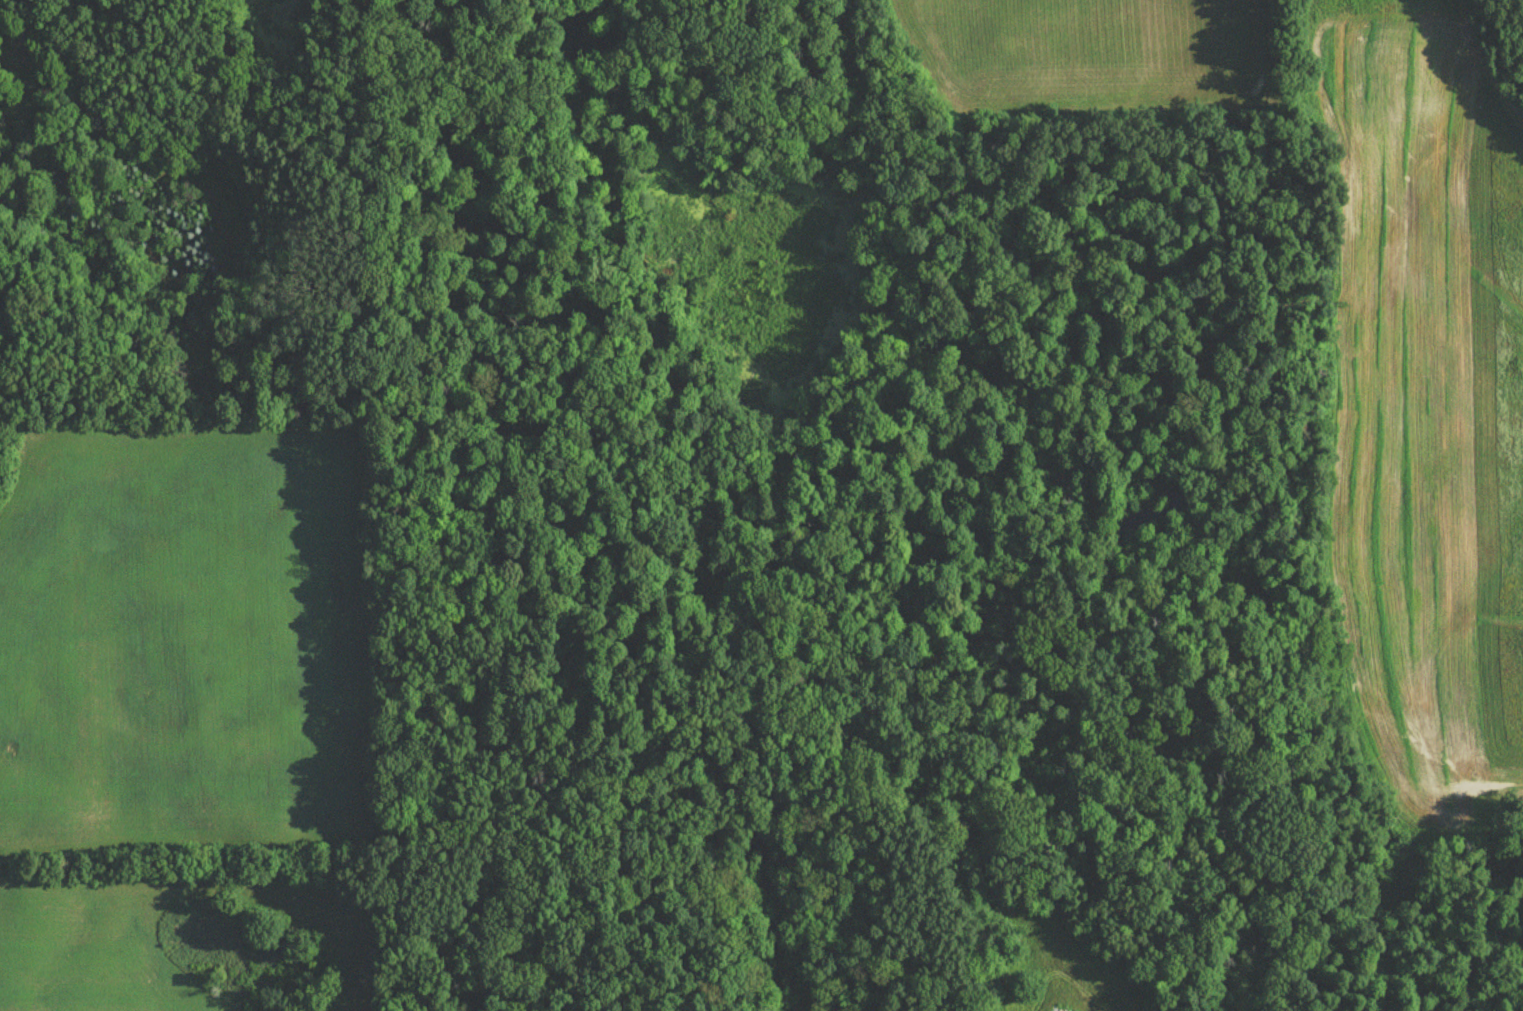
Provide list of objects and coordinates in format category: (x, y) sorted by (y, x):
road: (174, 792)

